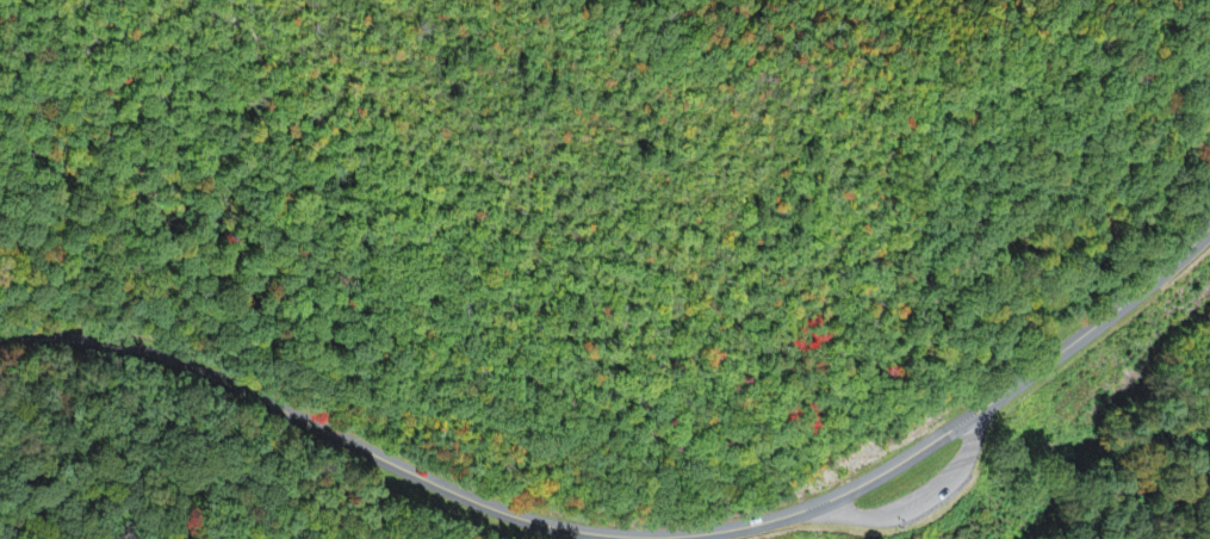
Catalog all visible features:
road: (676, 417)
road: (924, 500)
road: (632, 534)

